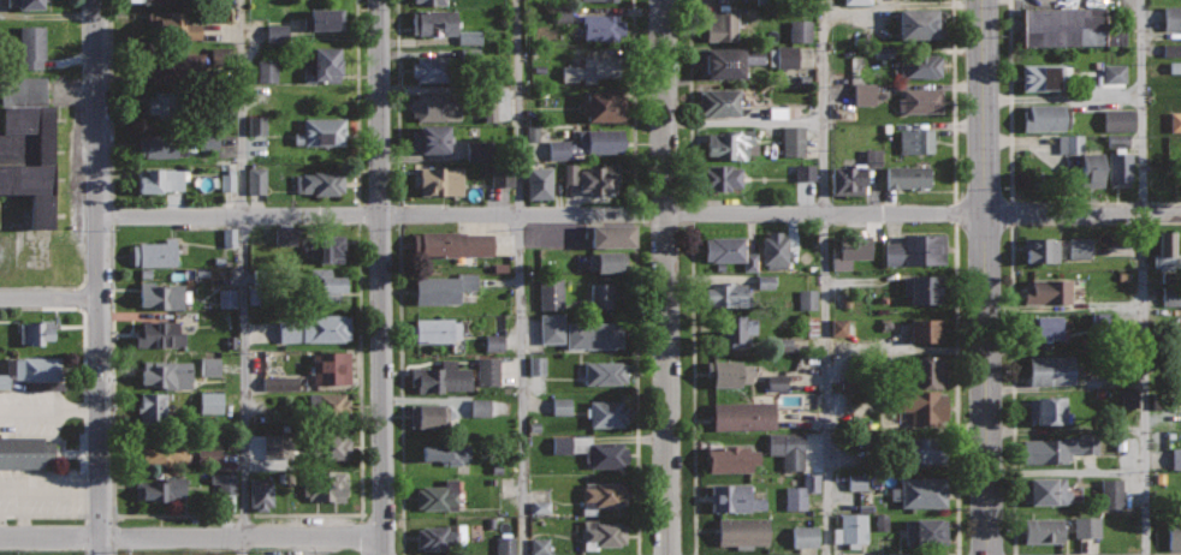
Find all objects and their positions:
building: (150, 0)
building: (600, 0)
building: (432, 1)
building: (25, 2)
building: (856, 2)
building: (562, 13)
building: (1171, 18)
building: (324, 19)
building: (434, 22)
building: (921, 22)
building: (171, 25)
building: (603, 26)
building: (723, 26)
building: (1068, 26)
building: (800, 31)
building: (274, 34)
building: (468, 37)
building: (31, 46)
building: (1171, 50)
building: (883, 52)
building: (782, 58)
building: (726, 61)
building: (321, 64)
building: (920, 64)
building: (174, 67)
building: (1174, 67)
building: (431, 68)
building: (589, 68)
building: (266, 70)
building: (1114, 73)
building: (1045, 77)
building: (864, 94)
building: (921, 99)
road: (631, 100)
road: (689, 100)
road: (356, 101)
building: (719, 101)
road: (952, 101)
road: (109, 102)
building: (161, 102)
road: (397, 102)
building: (603, 105)
building: (434, 107)
building: (1044, 117)
building: (1118, 120)
building: (1175, 121)
building: (255, 125)
building: (320, 131)
building: (431, 138)
building: (1117, 139)
building: (25, 141)
building: (208, 141)
building: (916, 141)
building: (793, 142)
building: (164, 143)
building: (571, 143)
building: (731, 143)
building: (1069, 144)
building: (479, 153)
building: (872, 157)
building: (1092, 168)
building: (1118, 168)
building: (805, 173)
building: (594, 175)
building: (908, 175)
building: (500, 177)
building: (722, 177)
building: (439, 178)
building: (160, 179)
building: (255, 180)
building: (320, 180)
building: (849, 180)
building: (227, 183)
building: (538, 185)
road: (1009, 185)
road: (639, 213)
building: (611, 234)
building: (285, 237)
building: (229, 238)
building: (452, 243)
building: (321, 244)
building: (855, 245)
building: (1040, 247)
building: (1078, 247)
building: (916, 249)
building: (1167, 249)
building: (729, 250)
building: (775, 250)
building: (154, 252)
building: (609, 261)
road: (379, 270)
road: (521, 276)
road: (666, 276)
road: (985, 276)
road: (97, 277)
road: (244, 277)
road: (824, 277)
road: (1144, 277)
building: (765, 282)
building: (326, 285)
road: (44, 286)
building: (924, 286)
building: (443, 288)
building: (1049, 291)
building: (161, 294)
building: (550, 294)
building: (725, 294)
building: (603, 296)
building: (1170, 297)
road: (48, 299)
building: (226, 299)
building: (807, 299)
building: (922, 322)
building: (1045, 326)
building: (316, 327)
building: (737, 327)
building: (838, 327)
building: (35, 329)
building: (437, 329)
building: (551, 329)
building: (159, 334)
building: (593, 334)
building: (493, 342)
building: (783, 345)
building: (209, 366)
building: (331, 366)
building: (536, 366)
building: (31, 369)
building: (1051, 369)
building: (166, 371)
building: (487, 371)
building: (921, 371)
building: (605, 372)
building: (729, 372)
building: (440, 376)
building: (776, 382)
road: (1011, 387)
road: (399, 389)
road: (636, 389)
road: (692, 389)
building: (1129, 399)
building: (210, 402)
building: (330, 404)
building: (560, 406)
building: (921, 406)
building: (154, 407)
building: (479, 407)
building: (1046, 411)
road: (82, 412)
building: (607, 412)
building: (743, 414)
building: (429, 416)
road: (956, 422)
building: (275, 446)
building: (331, 446)
building: (1060, 447)
building: (787, 449)
building: (925, 449)
building: (24, 450)
building: (449, 450)
building: (165, 453)
building: (606, 454)
building: (213, 456)
building: (732, 458)
building: (1177, 458)
building: (856, 482)
building: (224, 483)
building: (326, 483)
building: (162, 489)
building: (1045, 490)
building: (921, 491)
building: (261, 493)
building: (801, 493)
building: (1111, 494)
building: (438, 495)
building: (601, 495)
building: (736, 497)
building: (539, 507)
road: (237, 514)
building: (880, 521)
building: (1086, 527)
building: (851, 529)
building: (1044, 530)
building: (743, 531)
building: (925, 531)
building: (1175, 532)
building: (604, 533)
building: (438, 537)
building: (805, 537)
road: (191, 539)
building: (504, 545)
building: (539, 547)
road: (385, 548)

